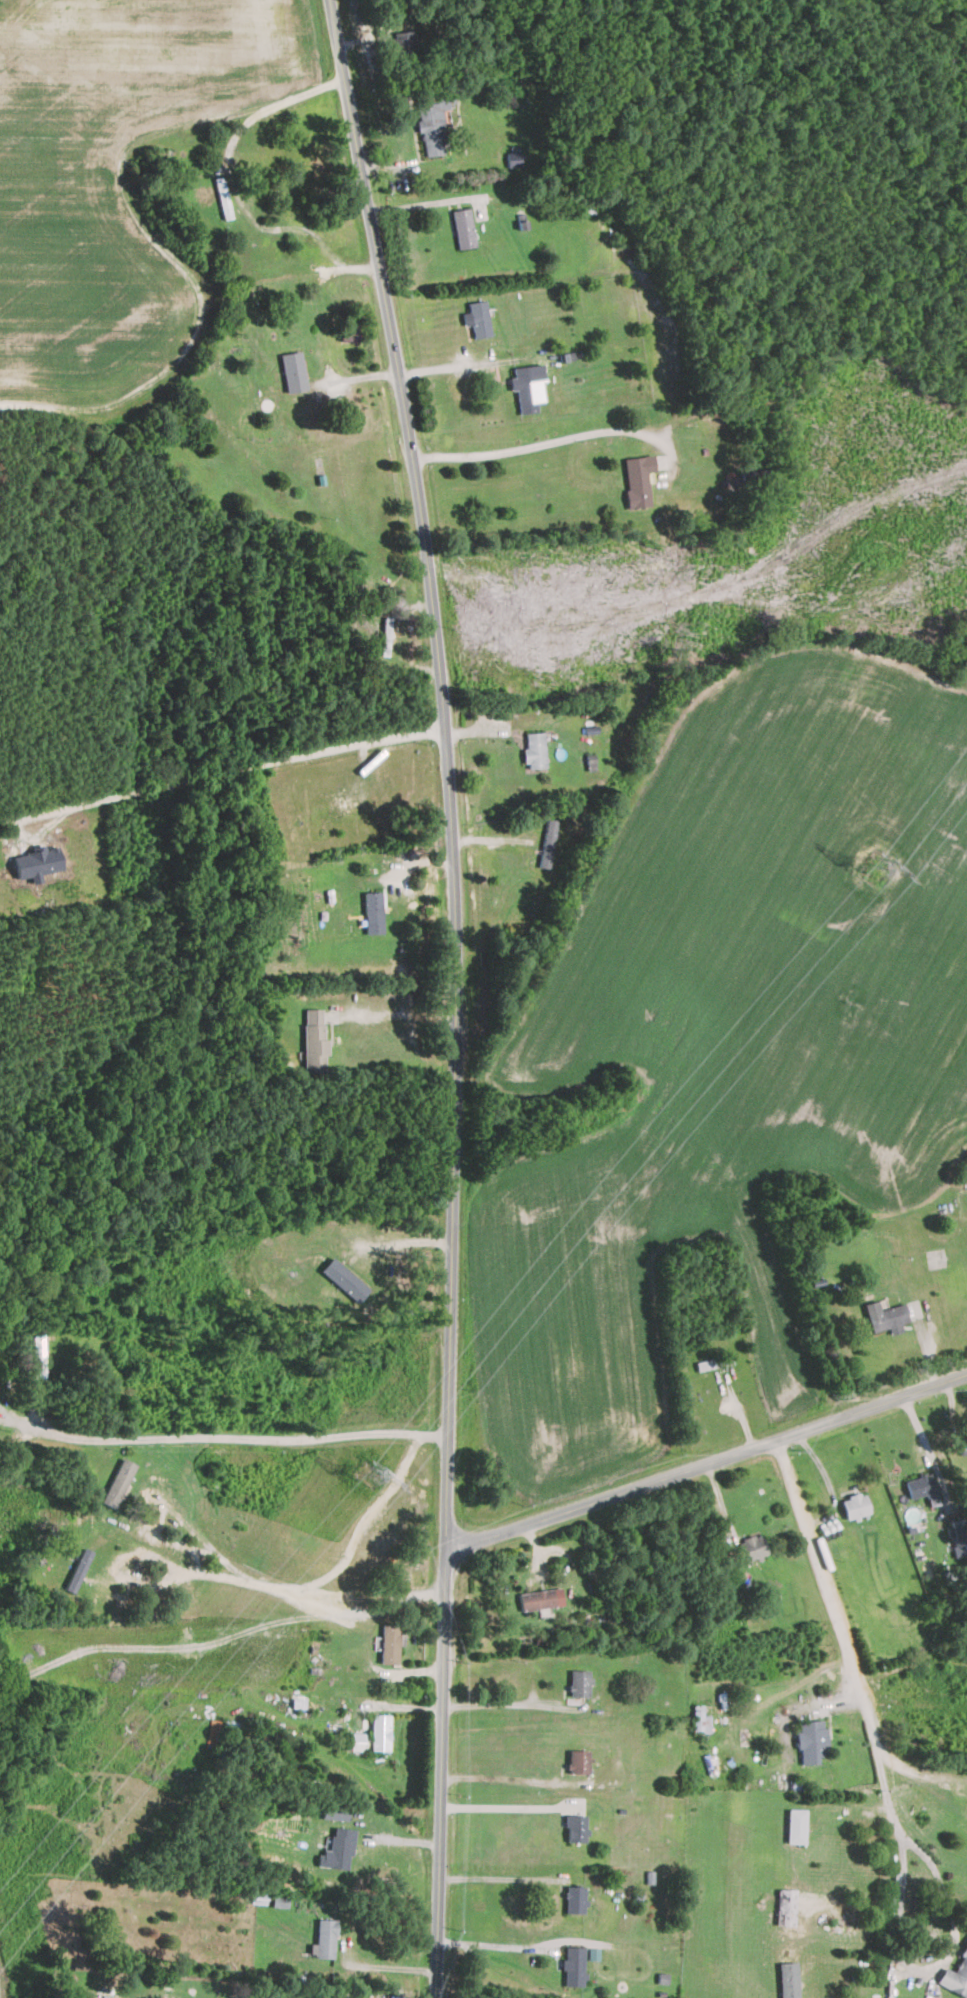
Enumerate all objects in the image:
road: (282, 101)
building: (431, 124)
building: (464, 227)
building: (477, 318)
road: (447, 367)
building: (294, 371)
road: (356, 376)
building: (526, 388)
road: (536, 444)
building: (638, 479)
building: (535, 750)
road: (223, 777)
building: (548, 842)
building: (36, 862)
power tower: (878, 869)
building: (373, 911)
road: (457, 994)
road: (402, 1006)
building: (314, 1040)
building: (345, 1279)
building: (885, 1316)
road: (230, 1438)
building: (962, 1444)
road: (709, 1465)
power tower: (373, 1476)
building: (118, 1482)
building: (922, 1487)
building: (854, 1505)
building: (956, 1536)
building: (752, 1547)
road: (207, 1567)
road: (303, 1580)
building: (541, 1598)
road: (841, 1628)
building: (390, 1643)
building: (580, 1682)
road: (515, 1704)
building: (381, 1732)
building: (811, 1740)
building: (358, 1741)
building: (579, 1760)
road: (916, 1770)
road: (503, 1806)
building: (335, 1813)
building: (796, 1825)
building: (576, 1827)
building: (338, 1848)
road: (498, 1877)
building: (575, 1898)
building: (786, 1906)
building: (324, 1939)
road: (492, 1945)
building: (574, 1965)
road: (386, 1966)
road: (926, 1968)
building: (956, 1975)
building: (788, 1979)

